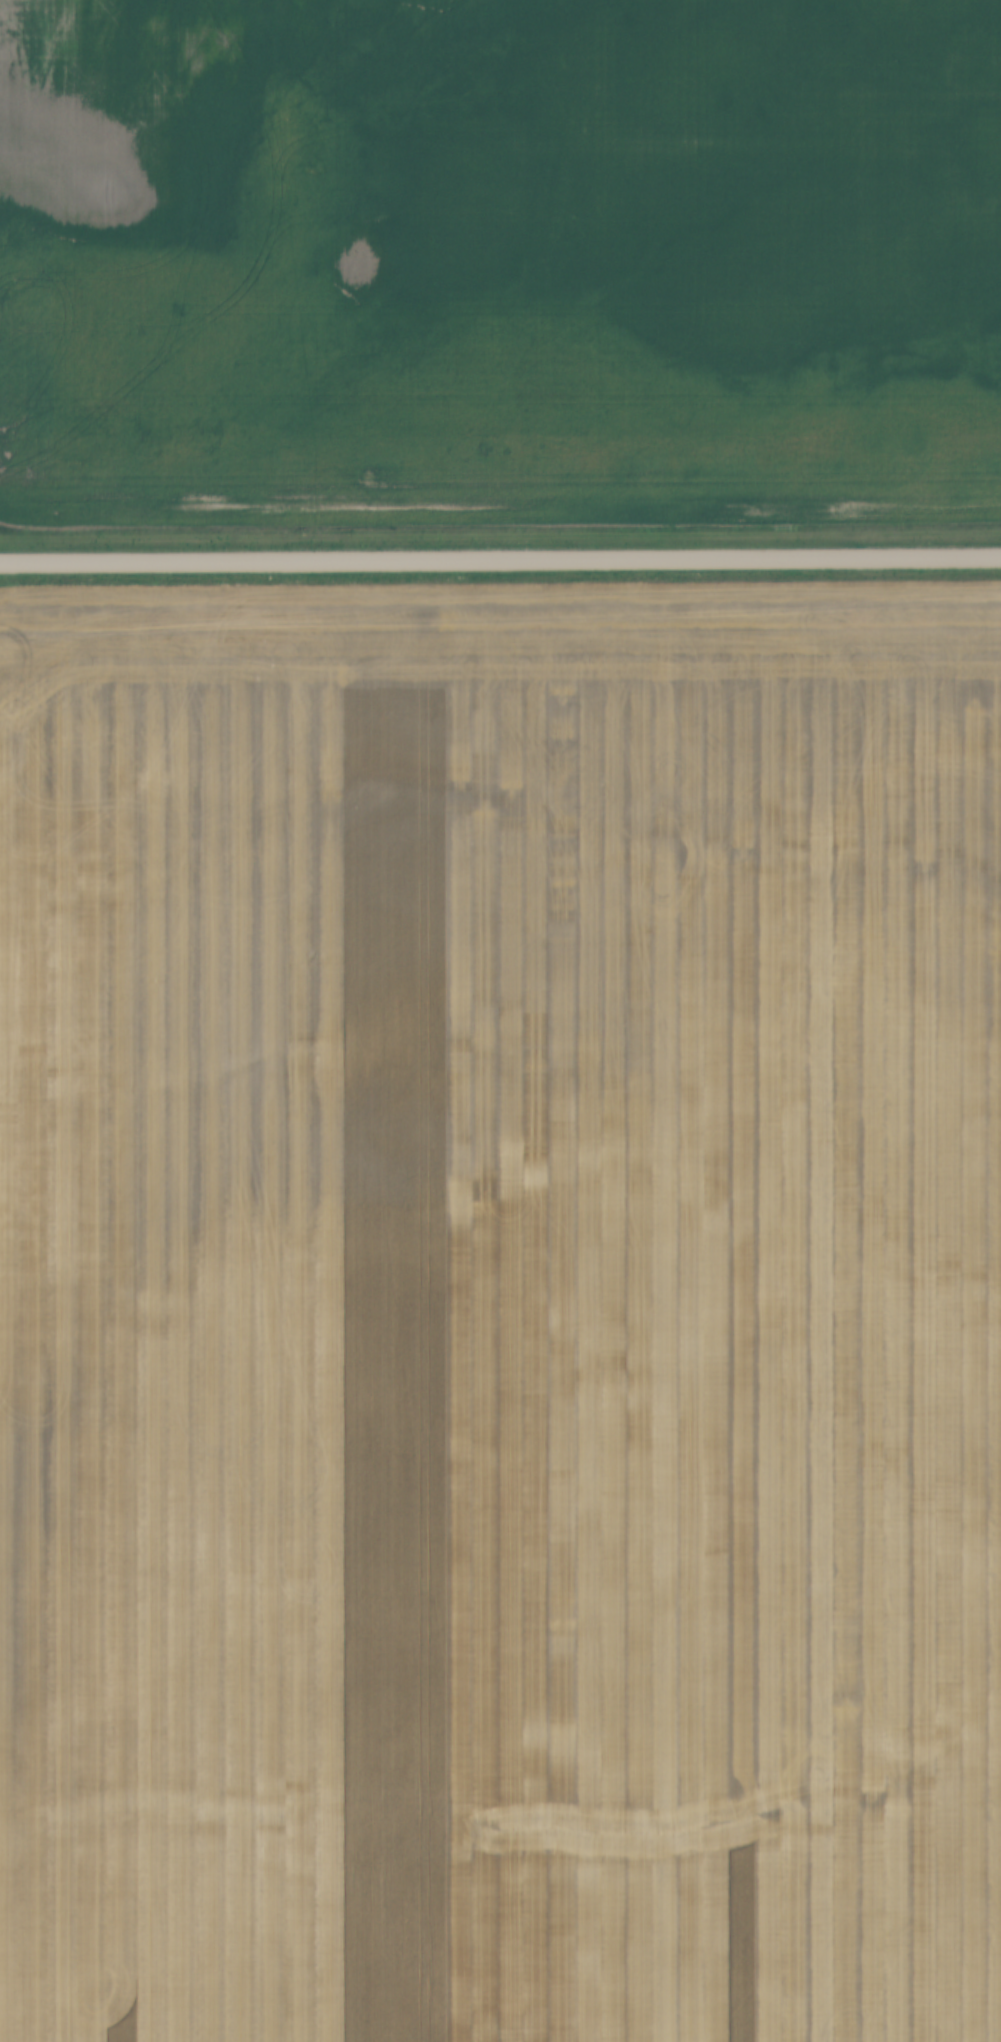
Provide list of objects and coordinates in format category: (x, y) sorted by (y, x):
road: (500, 560)

